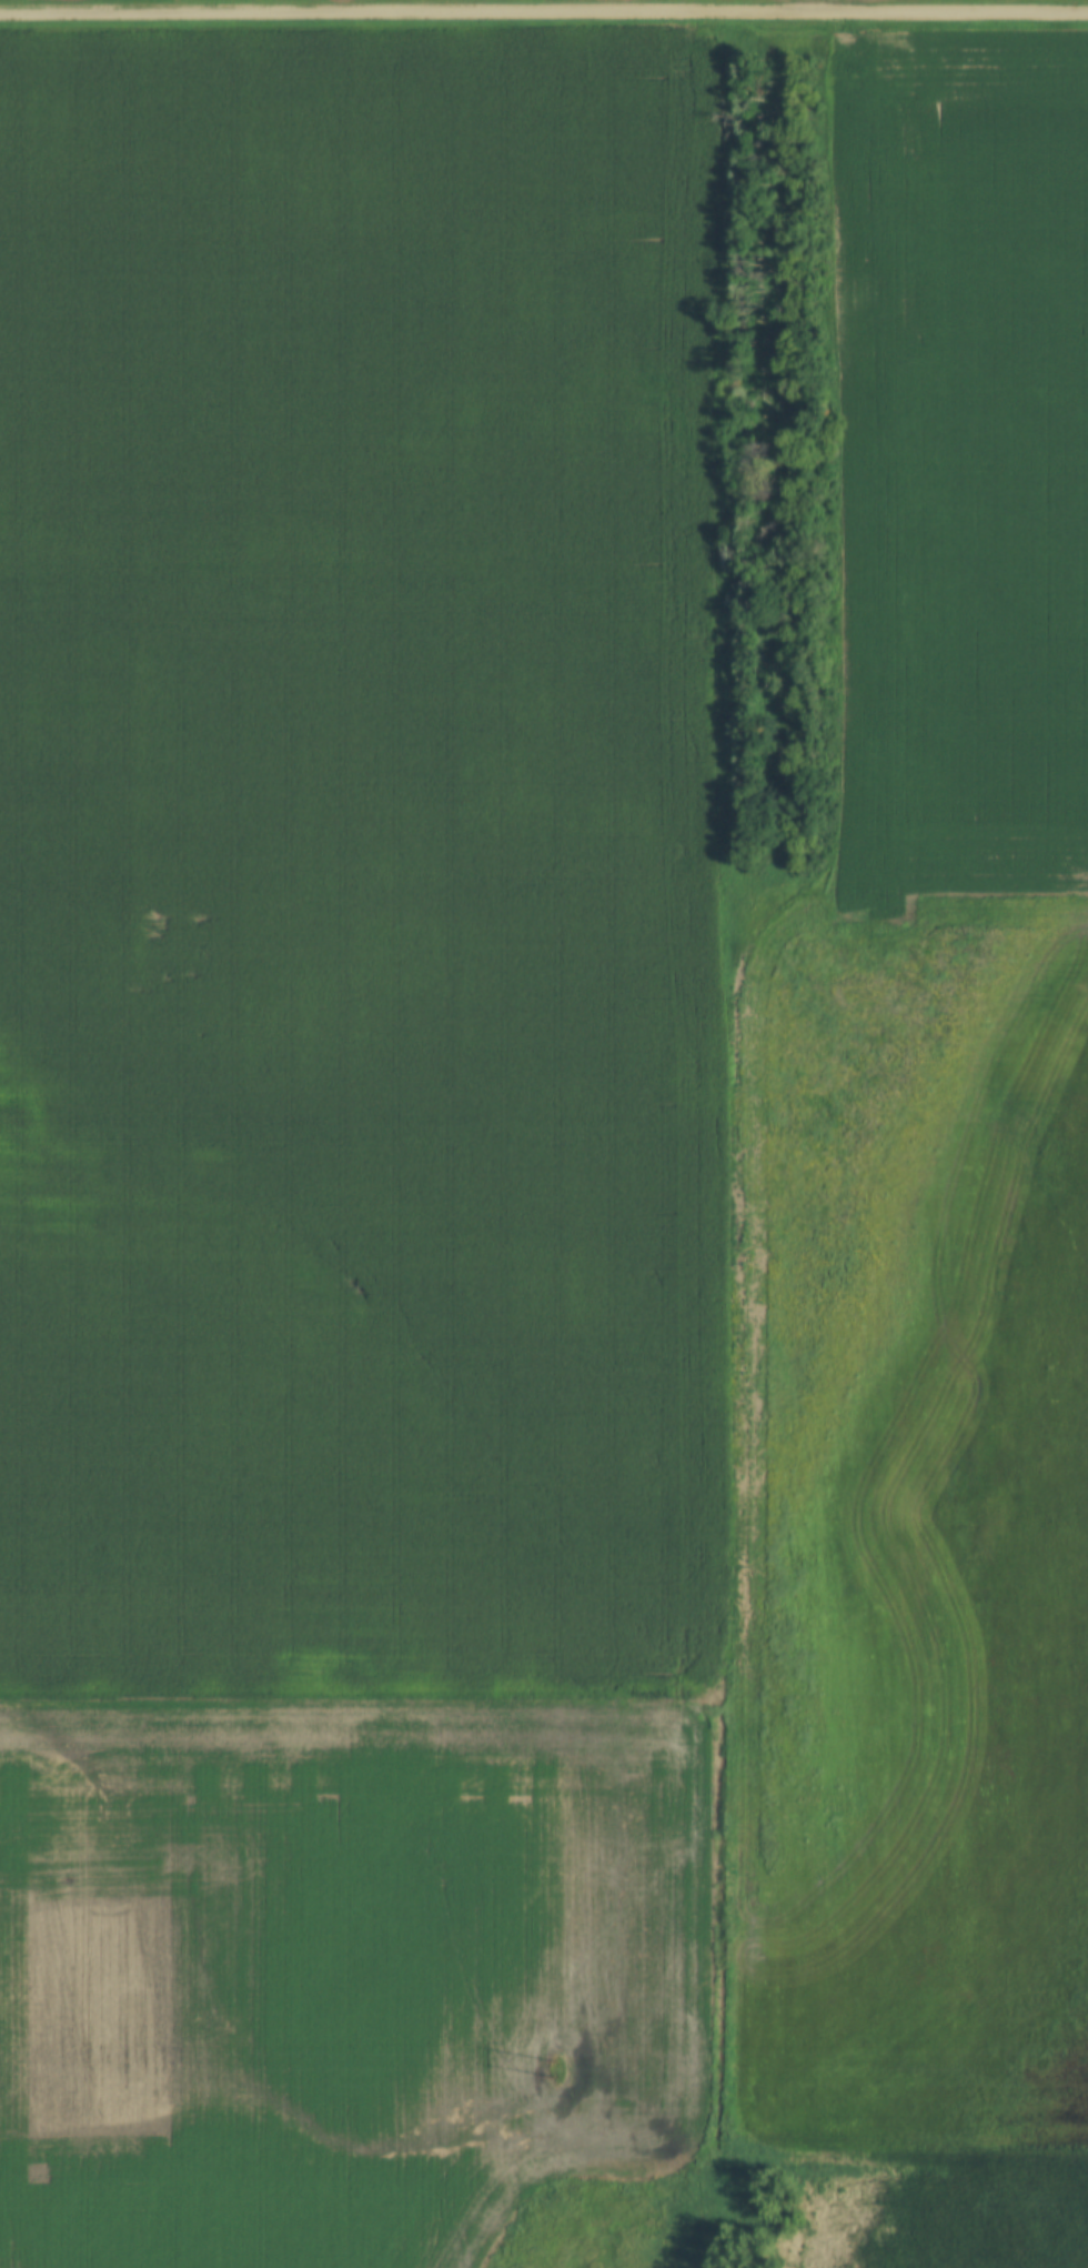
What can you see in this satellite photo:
road: (721, 7)
road: (544, 13)
crop: (356, 1133)
crop: (927, 1140)
power tower: (558, 2068)

